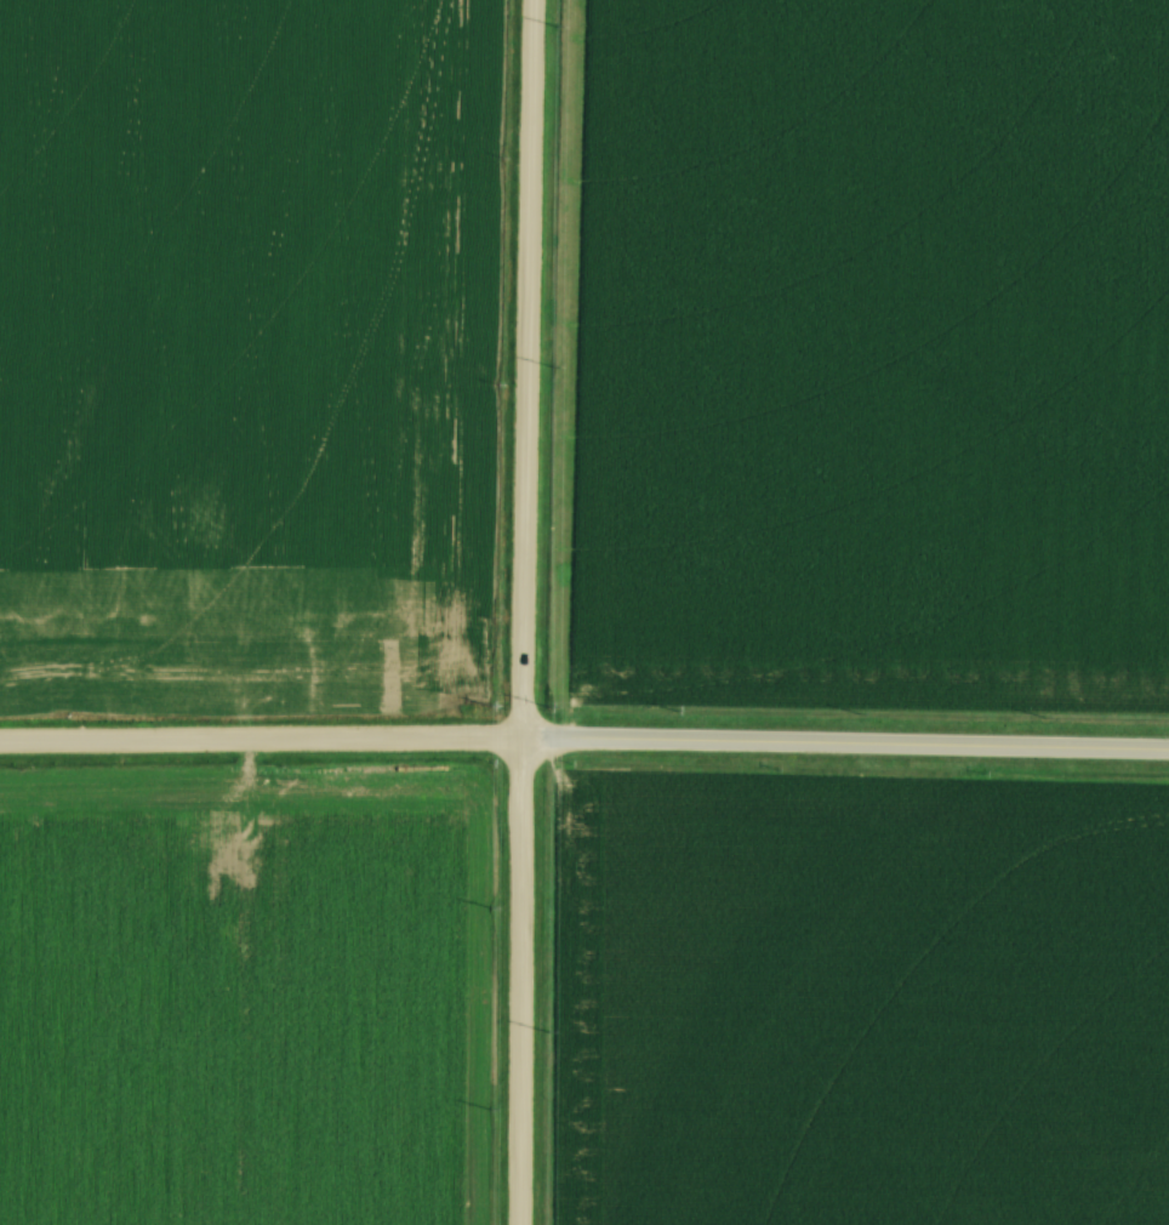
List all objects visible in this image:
crop: (872, 352)
road: (535, 360)
road: (266, 725)
road: (850, 728)
building: (278, 791)
building: (377, 794)
road: (529, 973)
crop: (238, 991)
crop: (873, 1002)

